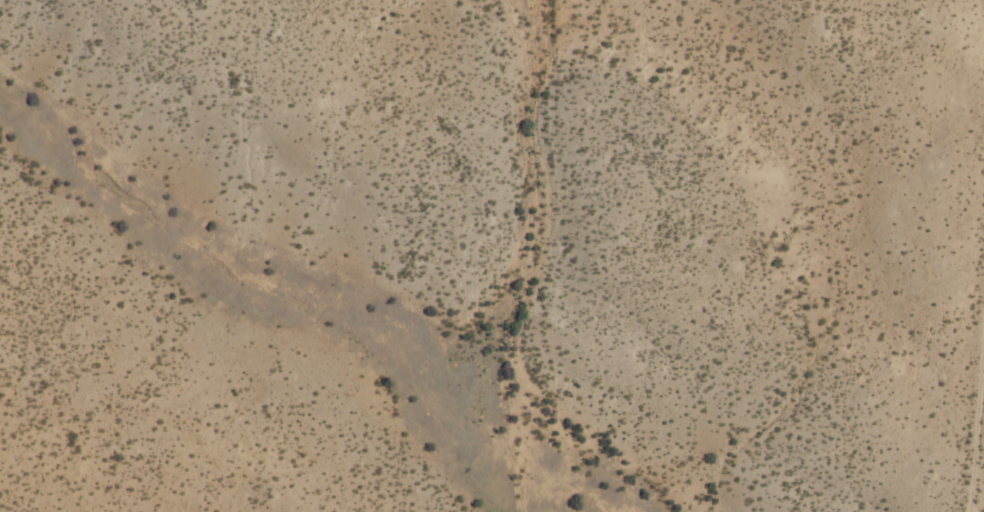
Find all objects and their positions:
road: (542, 255)
road: (939, 256)

